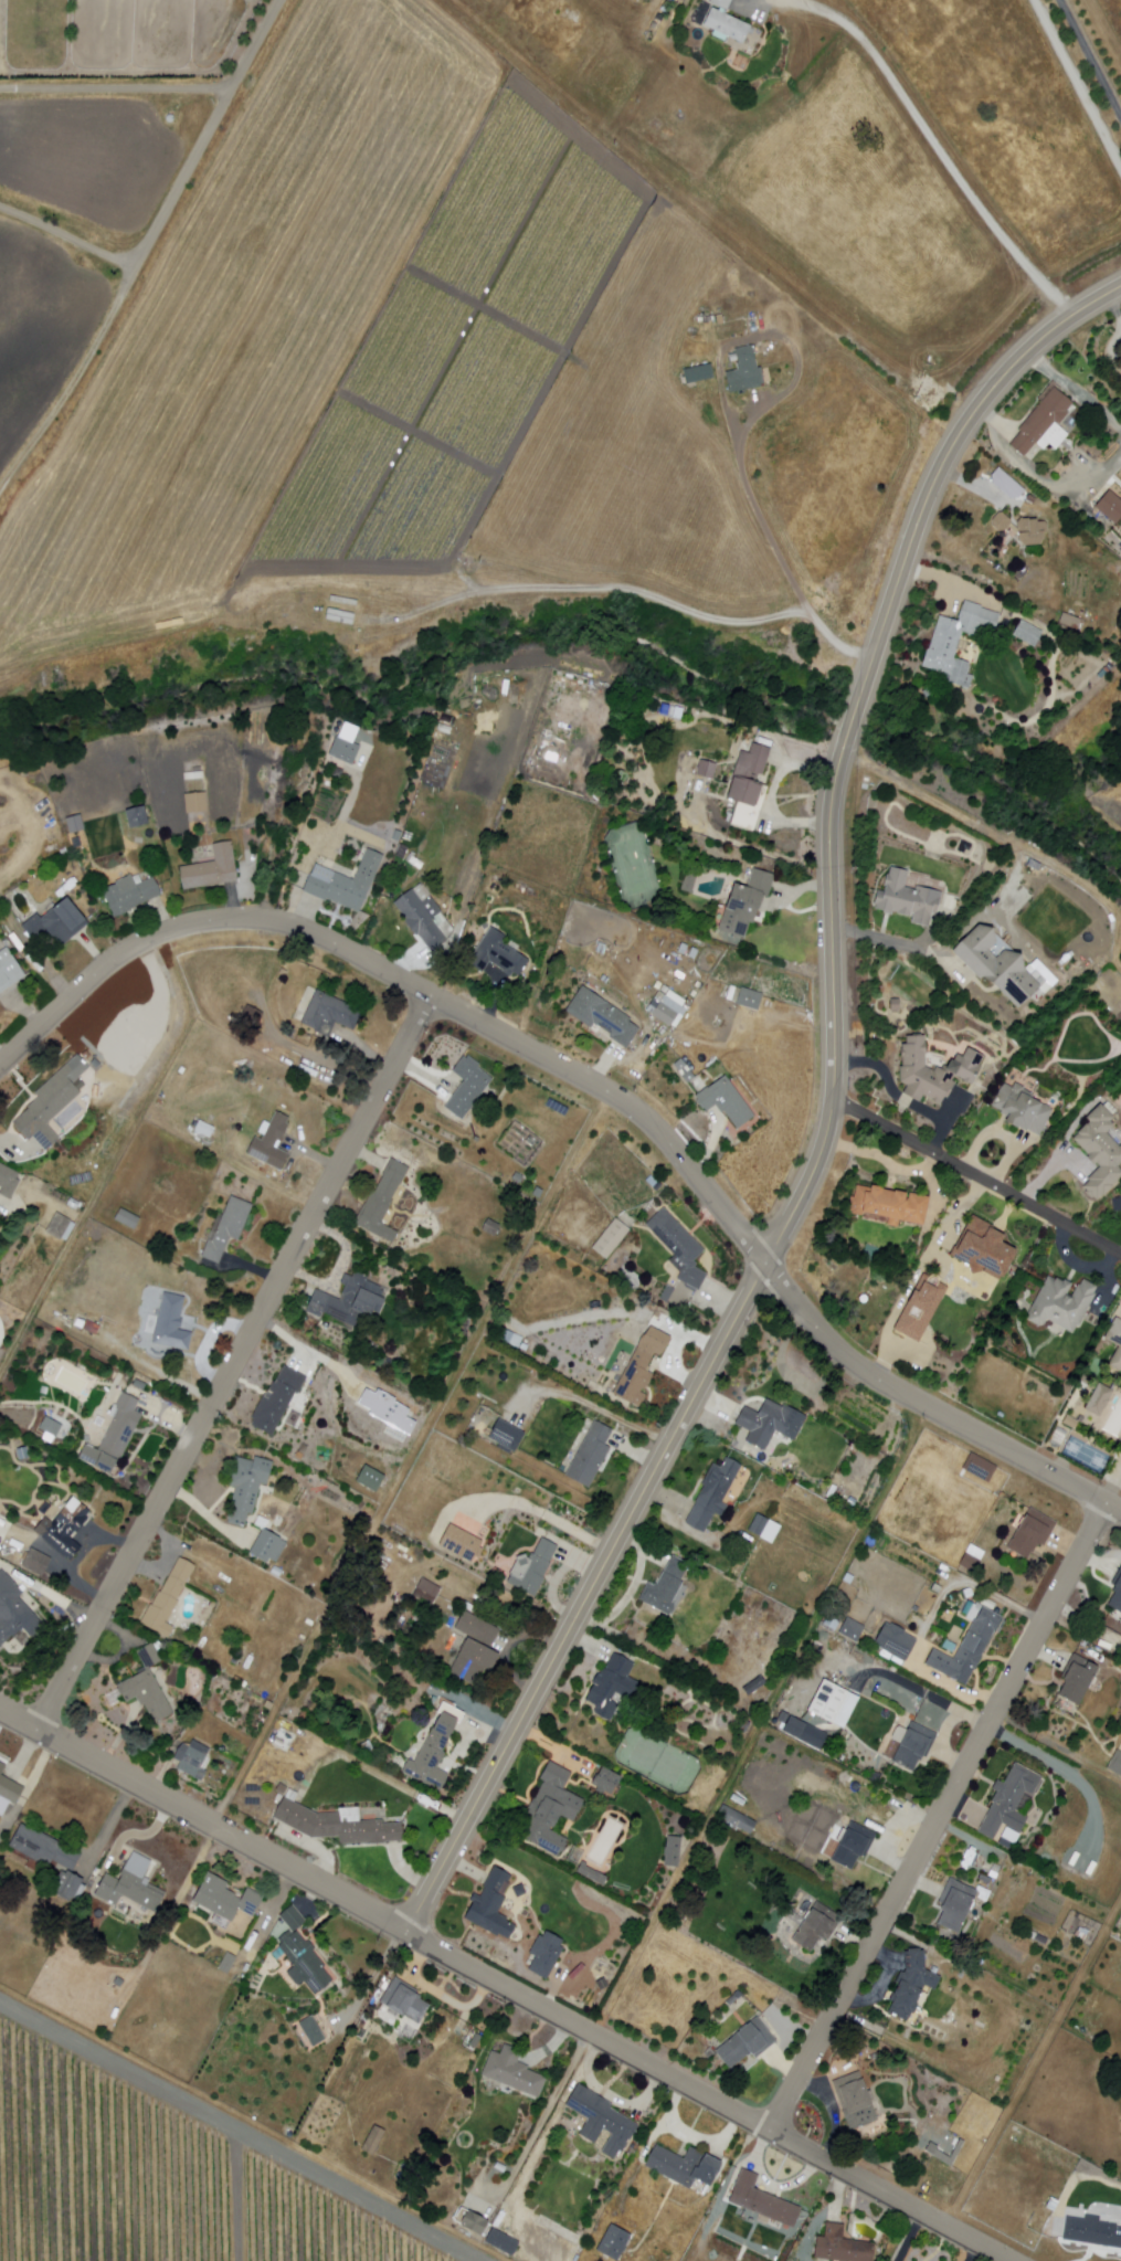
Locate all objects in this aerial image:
building: (725, 23)
crop: (1109, 23)
road: (1091, 55)
road: (239, 75)
road: (1078, 83)
road: (116, 87)
storage tank: (172, 119)
road: (933, 137)
road: (67, 237)
crop: (251, 307)
road: (106, 326)
building: (744, 372)
building: (698, 374)
building: (1044, 424)
road: (971, 487)
building: (1109, 507)
building: (1001, 521)
building: (1030, 531)
road: (773, 541)
building: (346, 602)
building: (342, 617)
building: (1069, 621)
building: (1027, 633)
building: (956, 641)
building: (342, 750)
building: (705, 769)
building: (193, 775)
building: (747, 775)
building: (193, 803)
building: (136, 817)
building: (73, 824)
building: (395, 835)
building: (965, 848)
park: (634, 867)
building: (210, 868)
building: (688, 881)
building: (342, 884)
building: (129, 894)
building: (907, 899)
building: (743, 906)
building: (1, 909)
building: (420, 920)
building: (55, 923)
building: (681, 951)
building: (691, 953)
building: (498, 955)
building: (995, 965)
building: (9, 970)
building: (1041, 974)
building: (748, 999)
building: (893, 1004)
building: (667, 1007)
building: (330, 1013)
building: (251, 1014)
building: (602, 1016)
building: (683, 1071)
building: (932, 1073)
road: (596, 1085)
building: (468, 1086)
building: (725, 1102)
building: (47, 1107)
building: (1019, 1110)
road: (828, 1112)
building: (207, 1130)
building: (269, 1142)
building: (1101, 1153)
road: (118, 1156)
road: (975, 1175)
building: (518, 1177)
building: (7, 1182)
building: (537, 1192)
building: (382, 1200)
building: (72, 1204)
building: (889, 1206)
building: (126, 1218)
building: (490, 1226)
building: (56, 1227)
building: (228, 1228)
building: (611, 1239)
building: (678, 1247)
building: (982, 1249)
storage tank: (864, 1299)
building: (351, 1302)
building: (1062, 1303)
building: (919, 1308)
building: (170, 1324)
building: (87, 1325)
building: (510, 1338)
building: (1115, 1344)
road: (232, 1363)
building: (641, 1366)
building: (277, 1399)
building: (1100, 1399)
building: (388, 1407)
building: (769, 1423)
building: (1071, 1423)
building: (49, 1427)
building: (506, 1435)
building: (113, 1436)
park: (1087, 1454)
building: (21, 1455)
building: (590, 1455)
road: (410, 1458)
building: (980, 1467)
building: (370, 1478)
building: (417, 1485)
building: (246, 1487)
building: (713, 1494)
building: (65, 1528)
building: (764, 1529)
building: (1032, 1533)
building: (461, 1541)
building: (268, 1546)
building: (972, 1559)
building: (35, 1562)
building: (532, 1568)
building: (276, 1572)
building: (848, 1578)
building: (664, 1587)
building: (427, 1592)
building: (1117, 1593)
building: (168, 1597)
building: (969, 1608)
building: (14, 1612)
building: (853, 1629)
building: (896, 1641)
building: (950, 1647)
building: (967, 1648)
building: (475, 1649)
building: (147, 1657)
building: (1078, 1679)
building: (754, 1686)
building: (612, 1687)
building: (145, 1695)
building: (434, 1702)
building: (833, 1704)
building: (783, 1716)
road: (762, 1721)
building: (745, 1728)
building: (805, 1733)
building: (283, 1740)
building: (911, 1744)
building: (435, 1748)
building: (192, 1760)
park: (658, 1761)
building: (1115, 1763)
building: (7, 1785)
building: (282, 1789)
building: (781, 1796)
building: (1, 1800)
building: (1008, 1802)
building: (550, 1810)
road: (938, 1817)
building: (737, 1819)
building: (334, 1826)
building: (1004, 1842)
building: (853, 1845)
building: (671, 1852)
building: (51, 1860)
building: (592, 1874)
building: (985, 1880)
building: (131, 1888)
building: (224, 1900)
building: (489, 1903)
building: (955, 1904)
building: (816, 1927)
building: (1083, 1935)
building: (1041, 1940)
building: (302, 1954)
building: (544, 1954)
building: (231, 1963)
building: (117, 1982)
building: (602, 1984)
building: (911, 1985)
road: (505, 1986)
building: (734, 1998)
building: (402, 2001)
building: (1027, 2026)
building: (310, 2032)
building: (747, 2043)
road: (1034, 2062)
building: (511, 2072)
building: (855, 2101)
building: (600, 2120)
road: (237, 2132)
building: (370, 2137)
building: (378, 2140)
building: (946, 2146)
building: (953, 2154)
building: (683, 2166)
building: (927, 2178)
road: (243, 2198)
building: (762, 2201)
building: (473, 2222)
building: (1091, 2231)
building: (501, 2242)
building: (572, 2242)
building: (612, 2242)
building: (840, 2246)

